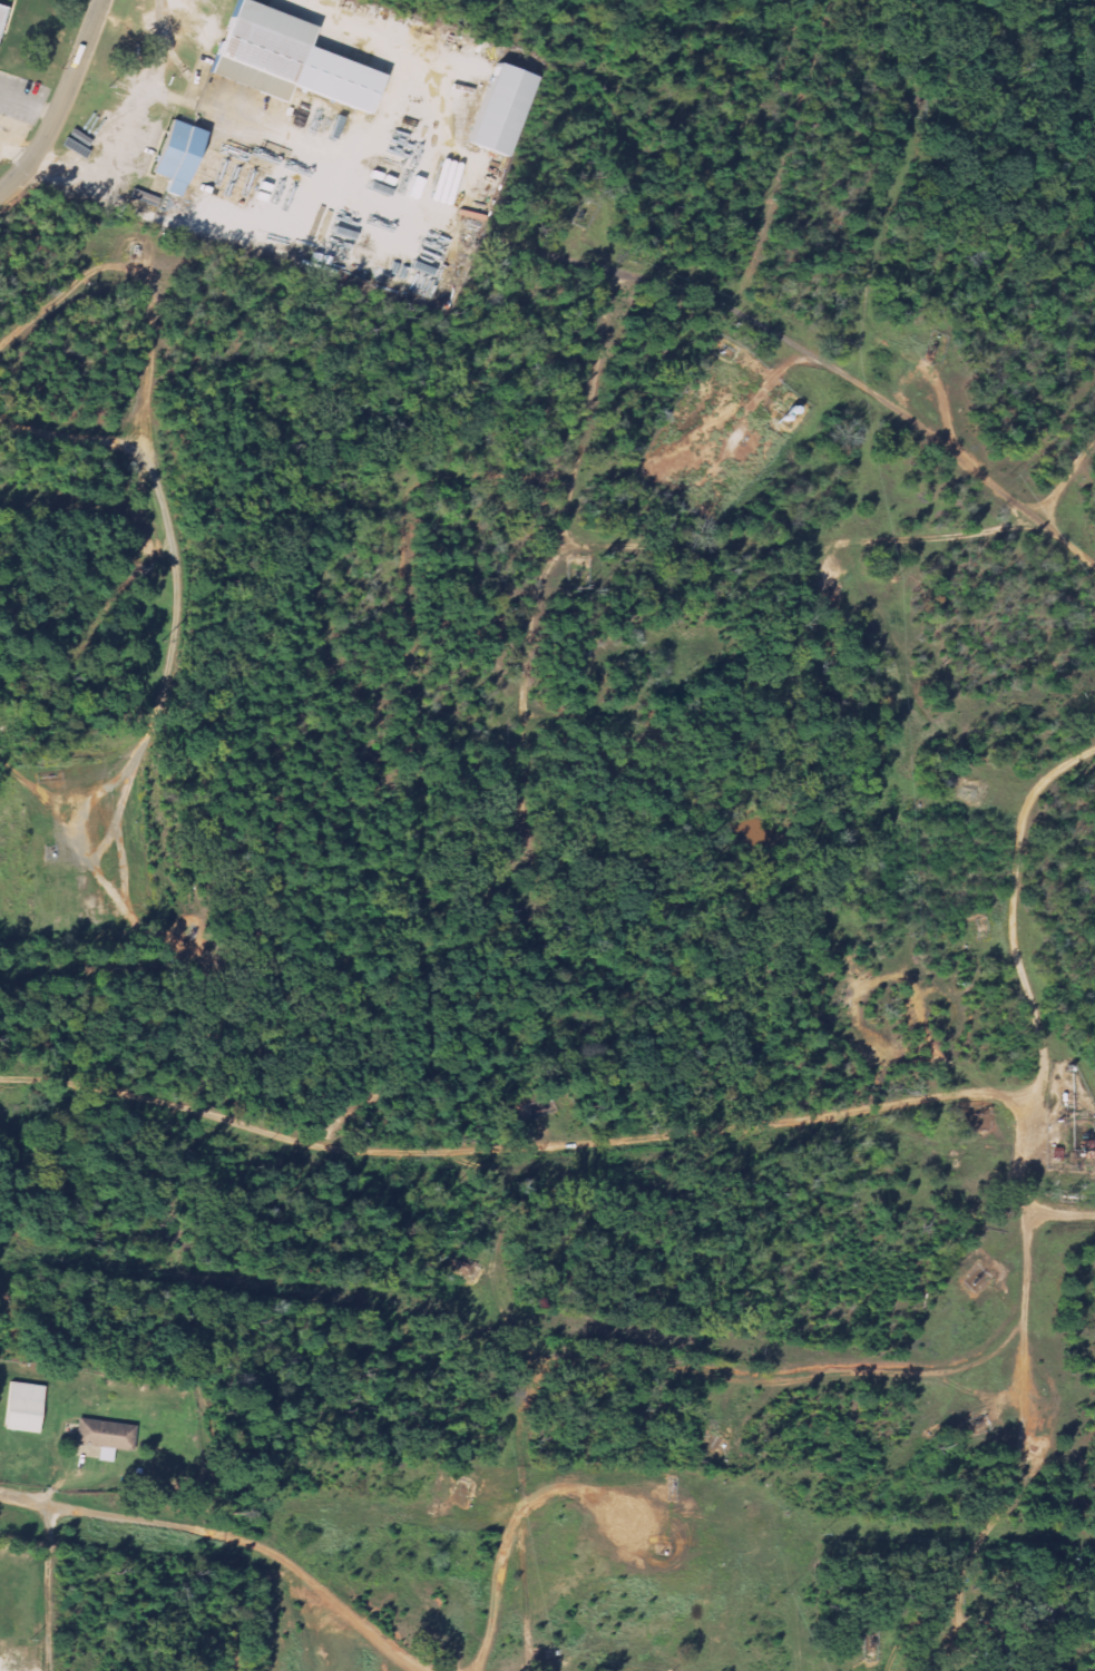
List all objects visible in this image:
building: (1, 12)
building: (261, 50)
road: (61, 104)
road: (28, 109)
building: (499, 111)
building: (175, 157)
road: (838, 371)
road: (596, 373)
road: (946, 407)
road: (63, 433)
road: (662, 453)
road: (568, 511)
road: (404, 521)
road: (847, 541)
road: (177, 560)
road: (525, 698)
road: (91, 794)
road: (70, 830)
road: (512, 1150)
road: (1028, 1210)
road: (1062, 1214)
road: (720, 1376)
building: (23, 1407)
building: (104, 1435)
road: (585, 1494)
road: (96, 1514)
road: (312, 1582)
road: (47, 1586)
road: (525, 1592)
road: (497, 1593)
building: (996, 1655)

